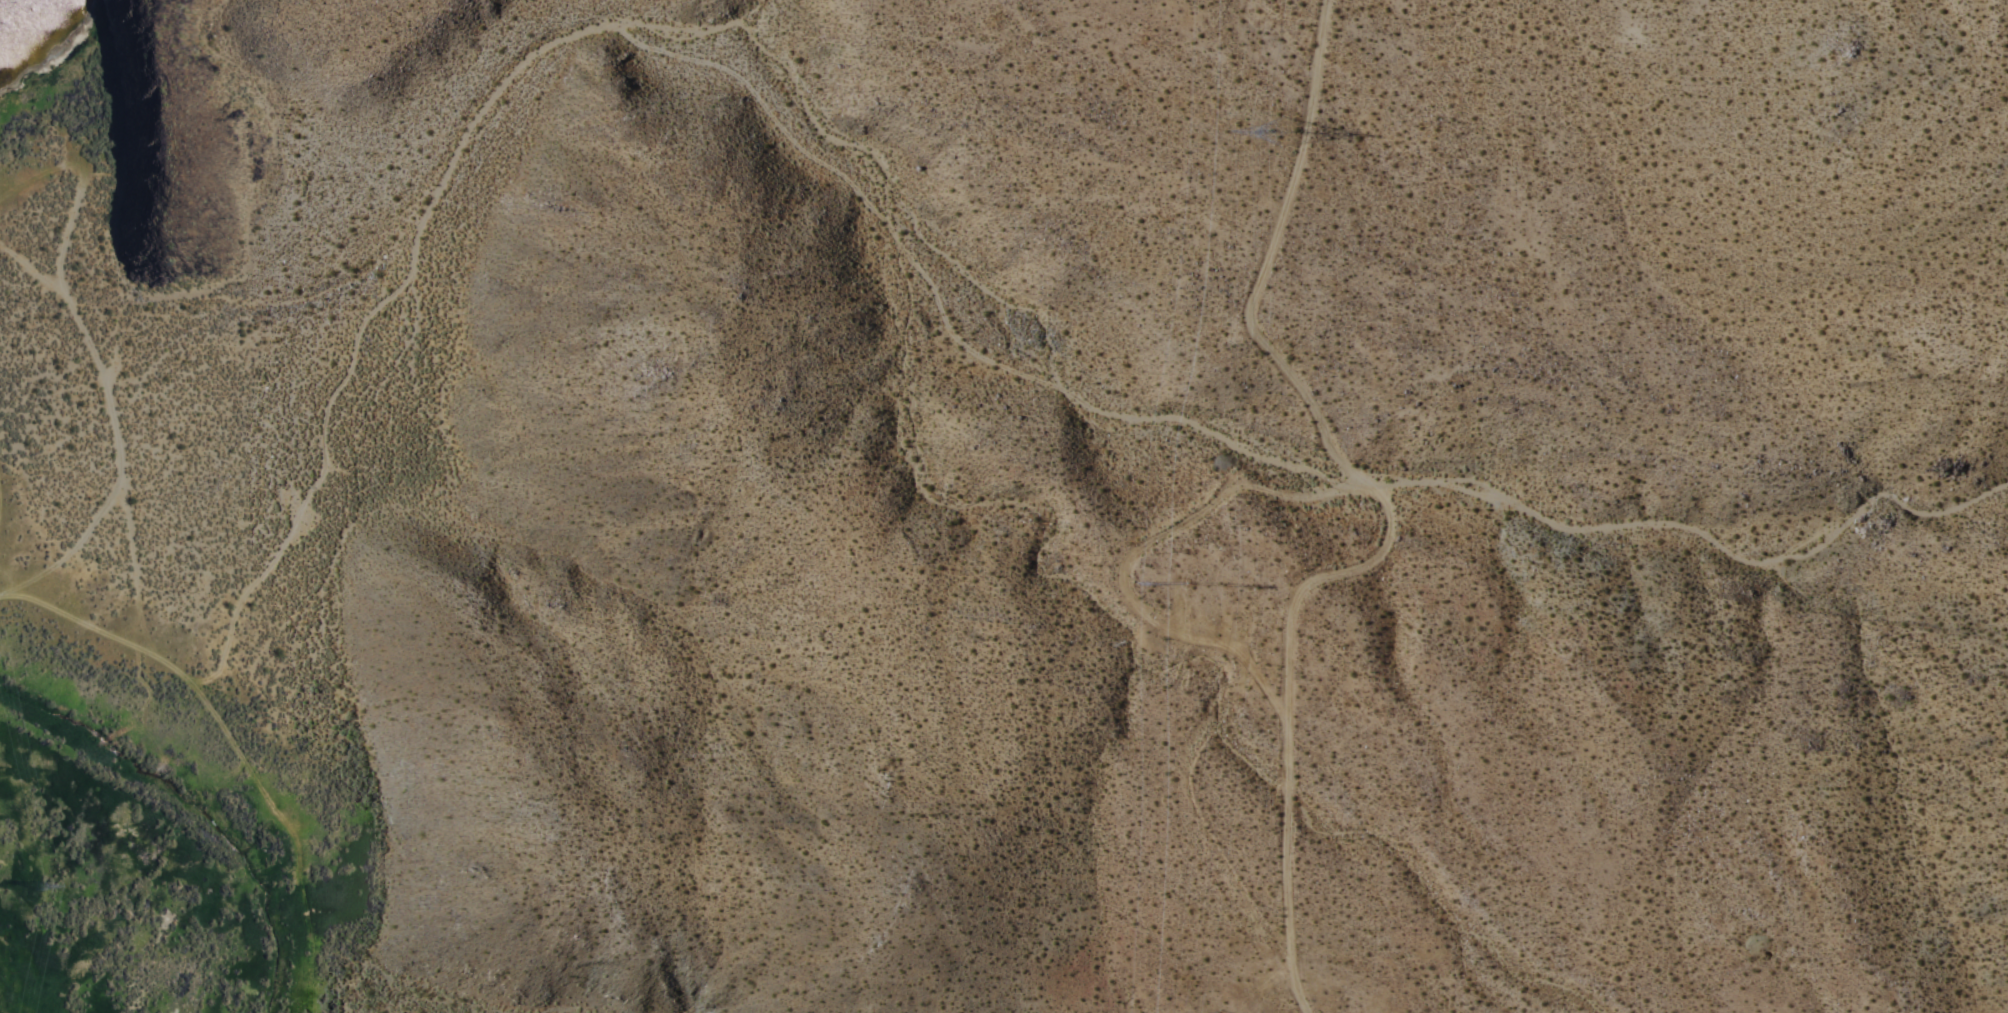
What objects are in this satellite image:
power tower: (1279, 137)
road: (1382, 509)
power tower: (1187, 581)
power tower: (34, 888)

